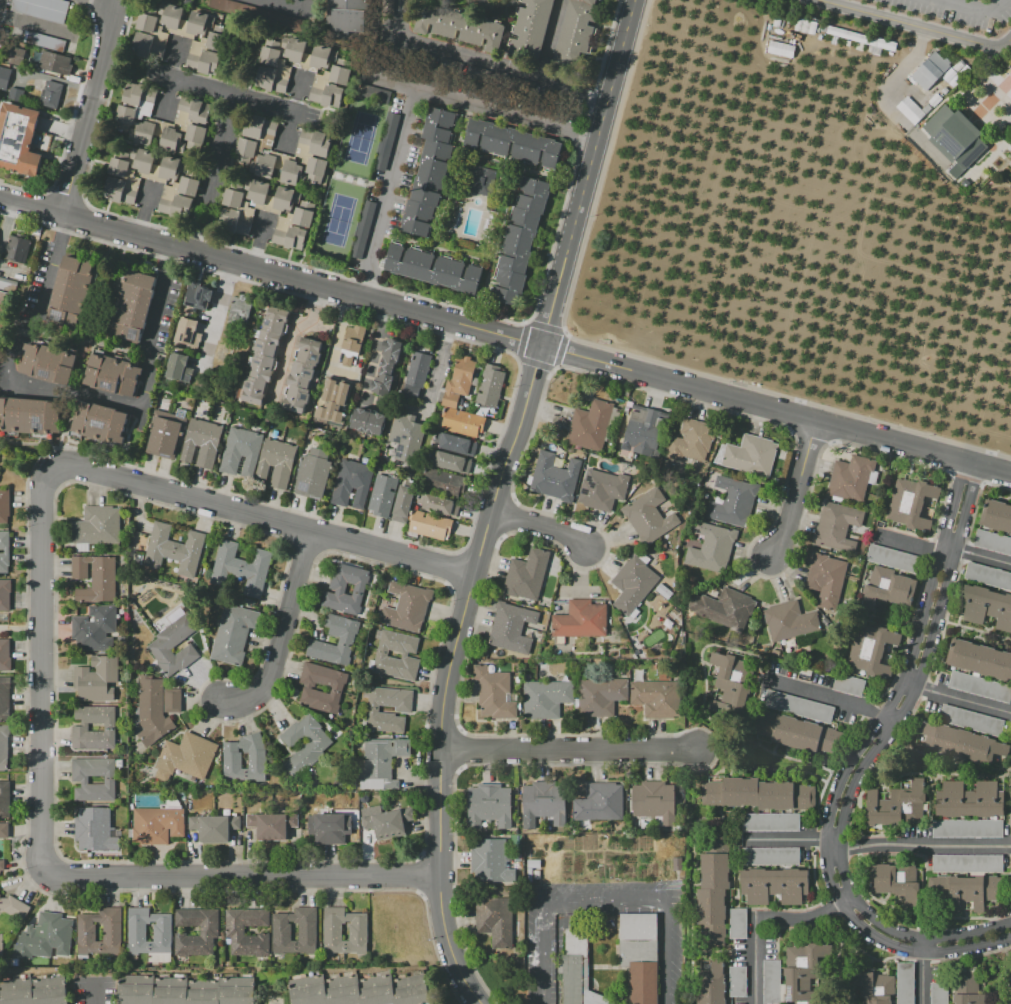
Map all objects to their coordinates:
road: (946, 1)
road: (100, 3)
road: (111, 3)
road: (285, 4)
road: (303, 4)
road: (964, 6)
road: (997, 6)
building: (43, 8)
parking lot: (957, 11)
building: (170, 15)
building: (349, 19)
building: (146, 22)
building: (200, 22)
road: (35, 25)
building: (458, 25)
road: (913, 27)
building: (530, 29)
building: (573, 35)
building: (852, 35)
building: (41, 40)
building: (215, 40)
road: (551, 44)
building: (146, 46)
building: (293, 49)
building: (781, 49)
building: (270, 53)
building: (14, 56)
building: (323, 56)
building: (204, 62)
building: (54, 63)
road: (481, 65)
building: (929, 69)
building: (0, 70)
building: (340, 71)
building: (271, 80)
building: (372, 92)
building: (138, 93)
building: (15, 95)
building: (50, 95)
road: (228, 95)
building: (327, 95)
road: (1004, 98)
road: (167, 99)
road: (883, 99)
road: (990, 100)
road: (485, 102)
building: (196, 109)
road: (87, 110)
building: (912, 110)
building: (125, 114)
building: (259, 126)
building: (142, 133)
building: (196, 134)
park: (362, 138)
building: (954, 138)
building: (18, 139)
building: (171, 141)
building: (385, 141)
building: (316, 142)
building: (513, 146)
building: (246, 149)
building: (142, 160)
building: (263, 165)
building: (317, 166)
building: (119, 167)
building: (172, 167)
building: (429, 172)
building: (292, 173)
road: (218, 174)
road: (587, 174)
building: (483, 181)
building: (188, 185)
road: (384, 190)
building: (119, 191)
building: (257, 191)
building: (233, 197)
building: (286, 198)
building: (176, 206)
road: (144, 208)
building: (304, 215)
park: (339, 218)
building: (234, 222)
building: (361, 228)
building: (290, 237)
building: (519, 241)
building: (16, 249)
road: (53, 265)
building: (77, 265)
building: (432, 269)
building: (0, 273)
building: (8, 285)
building: (71, 292)
building: (198, 296)
building: (133, 305)
building: (4, 307)
building: (241, 309)
road: (214, 317)
road: (151, 326)
building: (188, 333)
road: (296, 336)
road: (504, 338)
road: (335, 341)
building: (352, 343)
road: (372, 351)
building: (264, 357)
building: (46, 364)
building: (179, 367)
building: (386, 367)
building: (418, 369)
road: (436, 370)
building: (302, 374)
building: (112, 375)
building: (459, 380)
road: (34, 384)
building: (490, 390)
building: (334, 399)
building: (30, 416)
building: (367, 421)
building: (99, 422)
building: (462, 422)
building: (589, 425)
building: (645, 430)
building: (158, 433)
building: (171, 437)
building: (192, 439)
building: (691, 441)
building: (410, 443)
building: (455, 444)
building: (209, 445)
building: (234, 450)
building: (251, 454)
building: (750, 456)
building: (266, 459)
building: (450, 461)
building: (283, 465)
building: (308, 469)
building: (321, 474)
building: (446, 477)
building: (555, 477)
building: (851, 478)
building: (345, 482)
building: (362, 485)
building: (444, 487)
building: (602, 489)
road: (797, 491)
building: (383, 495)
building: (733, 502)
building: (404, 504)
building: (438, 504)
building: (911, 504)
building: (4, 505)
building: (996, 515)
building: (648, 516)
road: (258, 517)
building: (98, 525)
building: (430, 525)
road: (539, 526)
building: (837, 526)
building: (993, 542)
road: (908, 543)
building: (711, 548)
building: (174, 549)
building: (4, 551)
building: (895, 558)
road: (982, 558)
building: (240, 568)
building: (527, 574)
building: (988, 575)
building: (96, 578)
building: (826, 579)
building: (632, 584)
building: (886, 588)
building: (338, 589)
building: (4, 594)
building: (407, 606)
building: (986, 606)
building: (725, 608)
building: (581, 619)
building: (789, 620)
building: (94, 628)
building: (511, 628)
road: (278, 632)
building: (233, 634)
building: (345, 642)
building: (162, 644)
building: (872, 648)
building: (4, 655)
building: (381, 655)
building: (979, 659)
road: (41, 671)
road: (449, 674)
building: (97, 679)
building: (848, 684)
building: (980, 686)
building: (728, 687)
building: (337, 688)
building: (494, 693)
road: (826, 693)
building: (601, 696)
building: (546, 698)
building: (657, 698)
building: (5, 699)
road: (961, 699)
building: (797, 706)
building: (156, 708)
building: (403, 709)
building: (972, 720)
building: (81, 728)
building: (798, 733)
building: (961, 742)
building: (3, 745)
building: (305, 745)
road: (569, 748)
building: (186, 757)
road: (864, 759)
building: (245, 760)
building: (382, 762)
road: (843, 767)
building: (80, 778)
building: (757, 793)
building: (663, 798)
building: (5, 799)
building: (642, 799)
building: (969, 799)
building: (543, 803)
building: (599, 804)
building: (477, 805)
building: (499, 805)
building: (897, 805)
building: (770, 822)
building: (158, 823)
building: (388, 823)
building: (272, 825)
building: (215, 827)
building: (329, 828)
building: (968, 828)
building: (95, 829)
building: (4, 830)
road: (789, 840)
road: (923, 844)
building: (771, 856)
building: (491, 860)
building: (967, 864)
building: (2, 865)
road: (243, 875)
building: (896, 880)
building: (774, 886)
building: (964, 890)
building: (712, 898)
road: (603, 904)
building: (14, 907)
building: (495, 919)
road: (760, 920)
building: (737, 923)
building: (235, 929)
building: (209, 930)
building: (112, 932)
building: (136, 932)
building: (282, 932)
building: (331, 932)
building: (44, 937)
building: (1, 945)
road: (586, 954)
building: (640, 955)
parking lot: (542, 966)
road: (624, 967)
building: (578, 970)
road: (920, 970)
building: (802, 973)
building: (738, 981)
building: (772, 982)
building: (905, 983)
building: (712, 985)
building: (875, 987)
building: (969, 988)
parking lot: (94, 990)
building: (184, 990)
building: (359, 990)
building: (34, 991)
road: (94, 992)
building: (938, 993)
road: (600, 997)
road: (622, 998)

